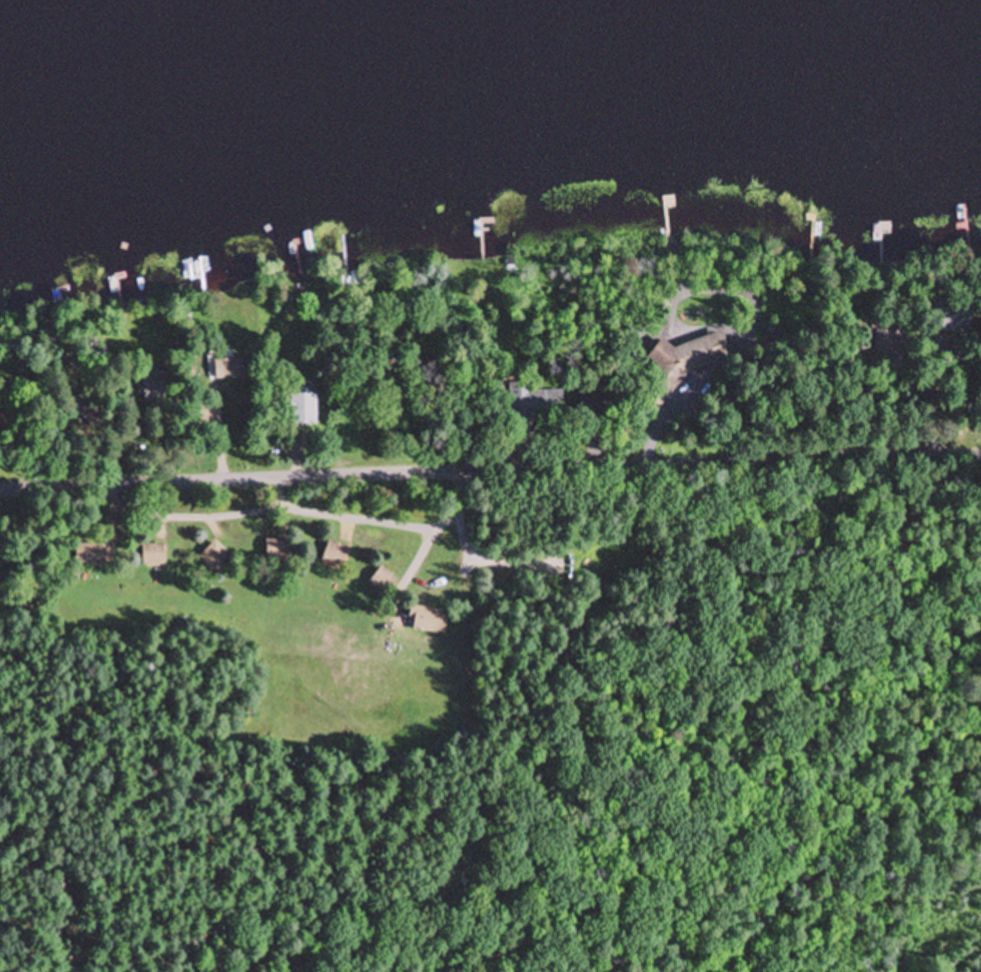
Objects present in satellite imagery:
building: (954, 319)
building: (881, 345)
building: (686, 366)
building: (228, 369)
building: (534, 402)
building: (303, 408)
building: (590, 408)
road: (490, 469)
building: (277, 550)
building: (93, 554)
building: (154, 556)
building: (335, 556)
building: (2, 557)
building: (216, 558)
building: (383, 582)
building: (428, 621)

